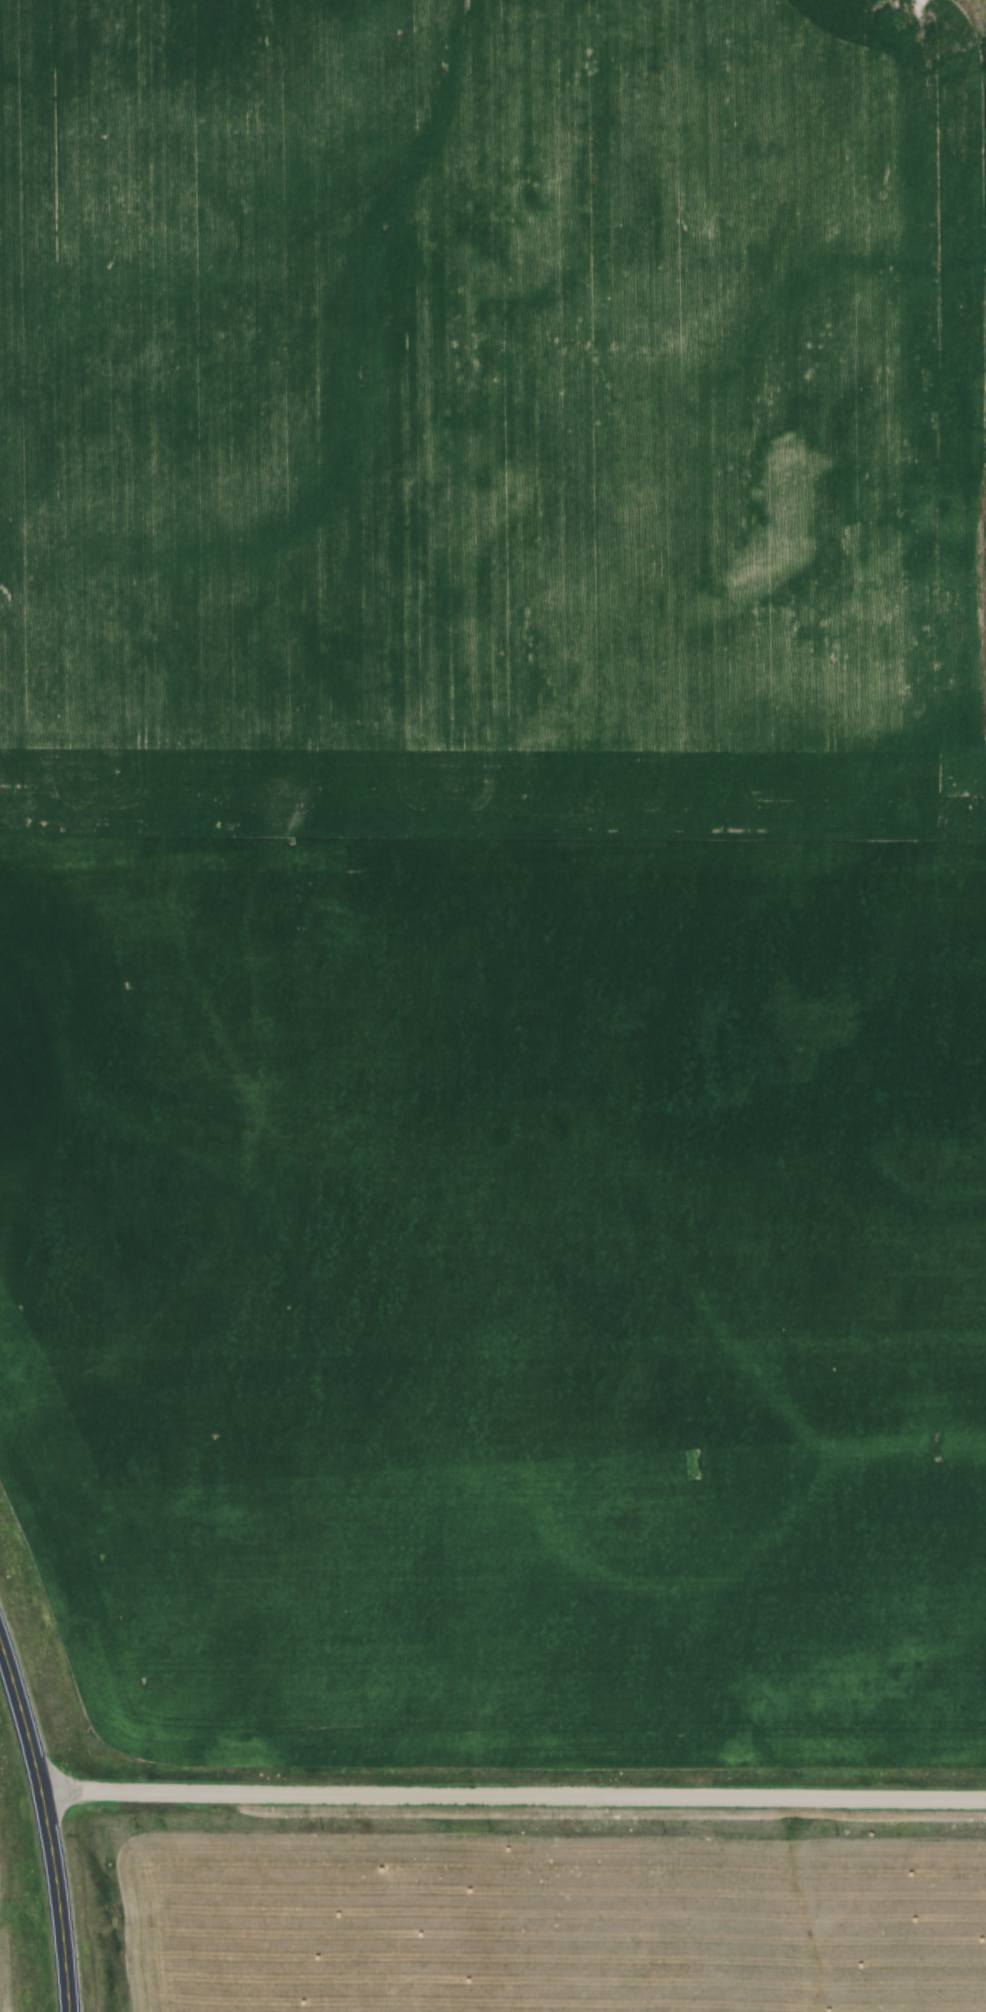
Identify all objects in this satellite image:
road: (511, 1797)
road: (45, 1833)

